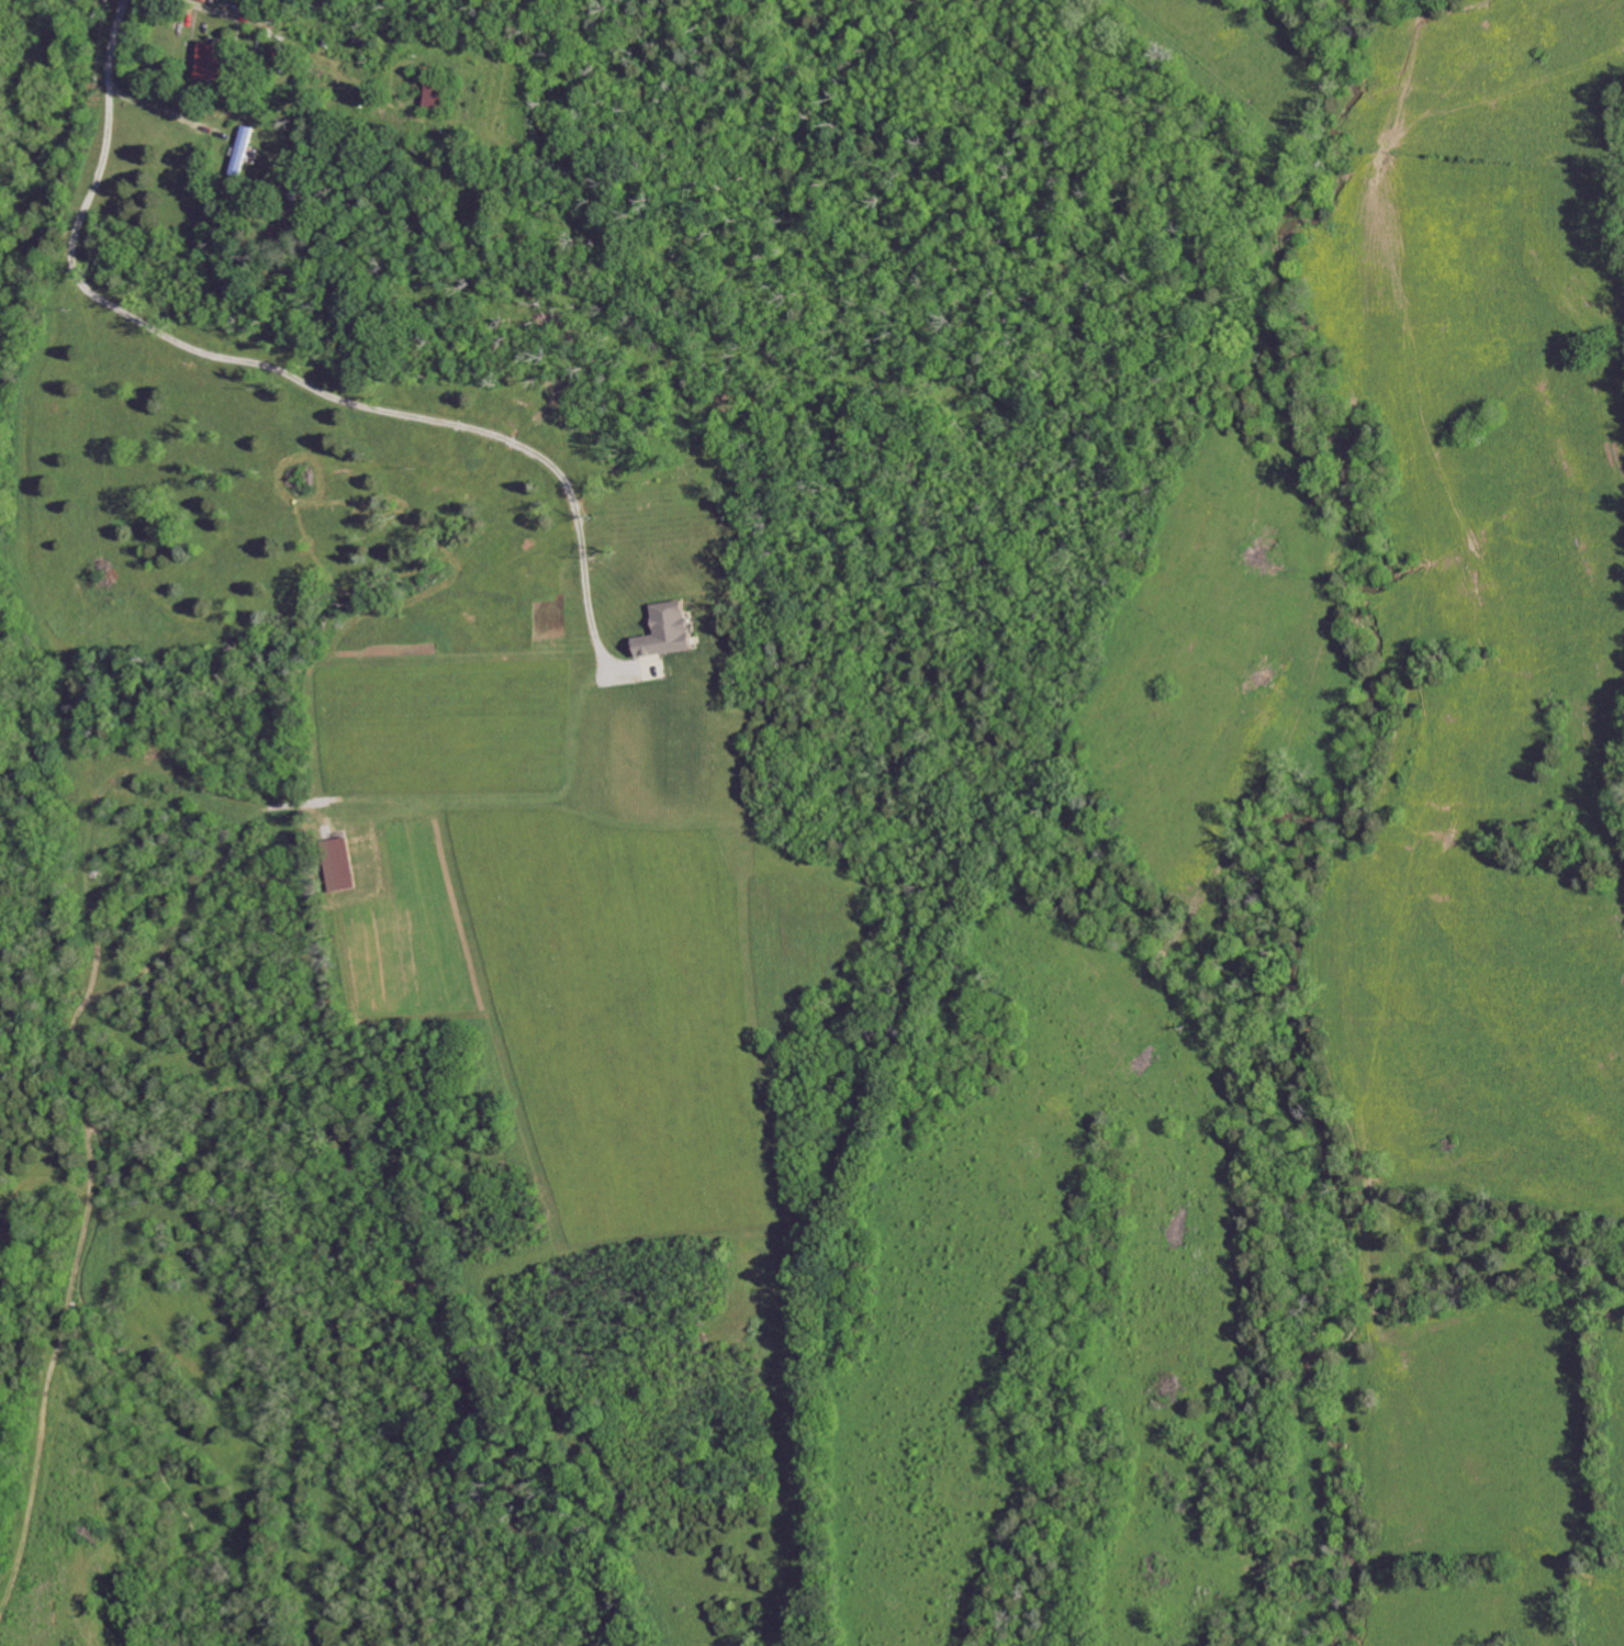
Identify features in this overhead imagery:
building: (209, 61)
road: (164, 113)
building: (242, 149)
road: (266, 370)
building: (671, 631)
building: (347, 865)

